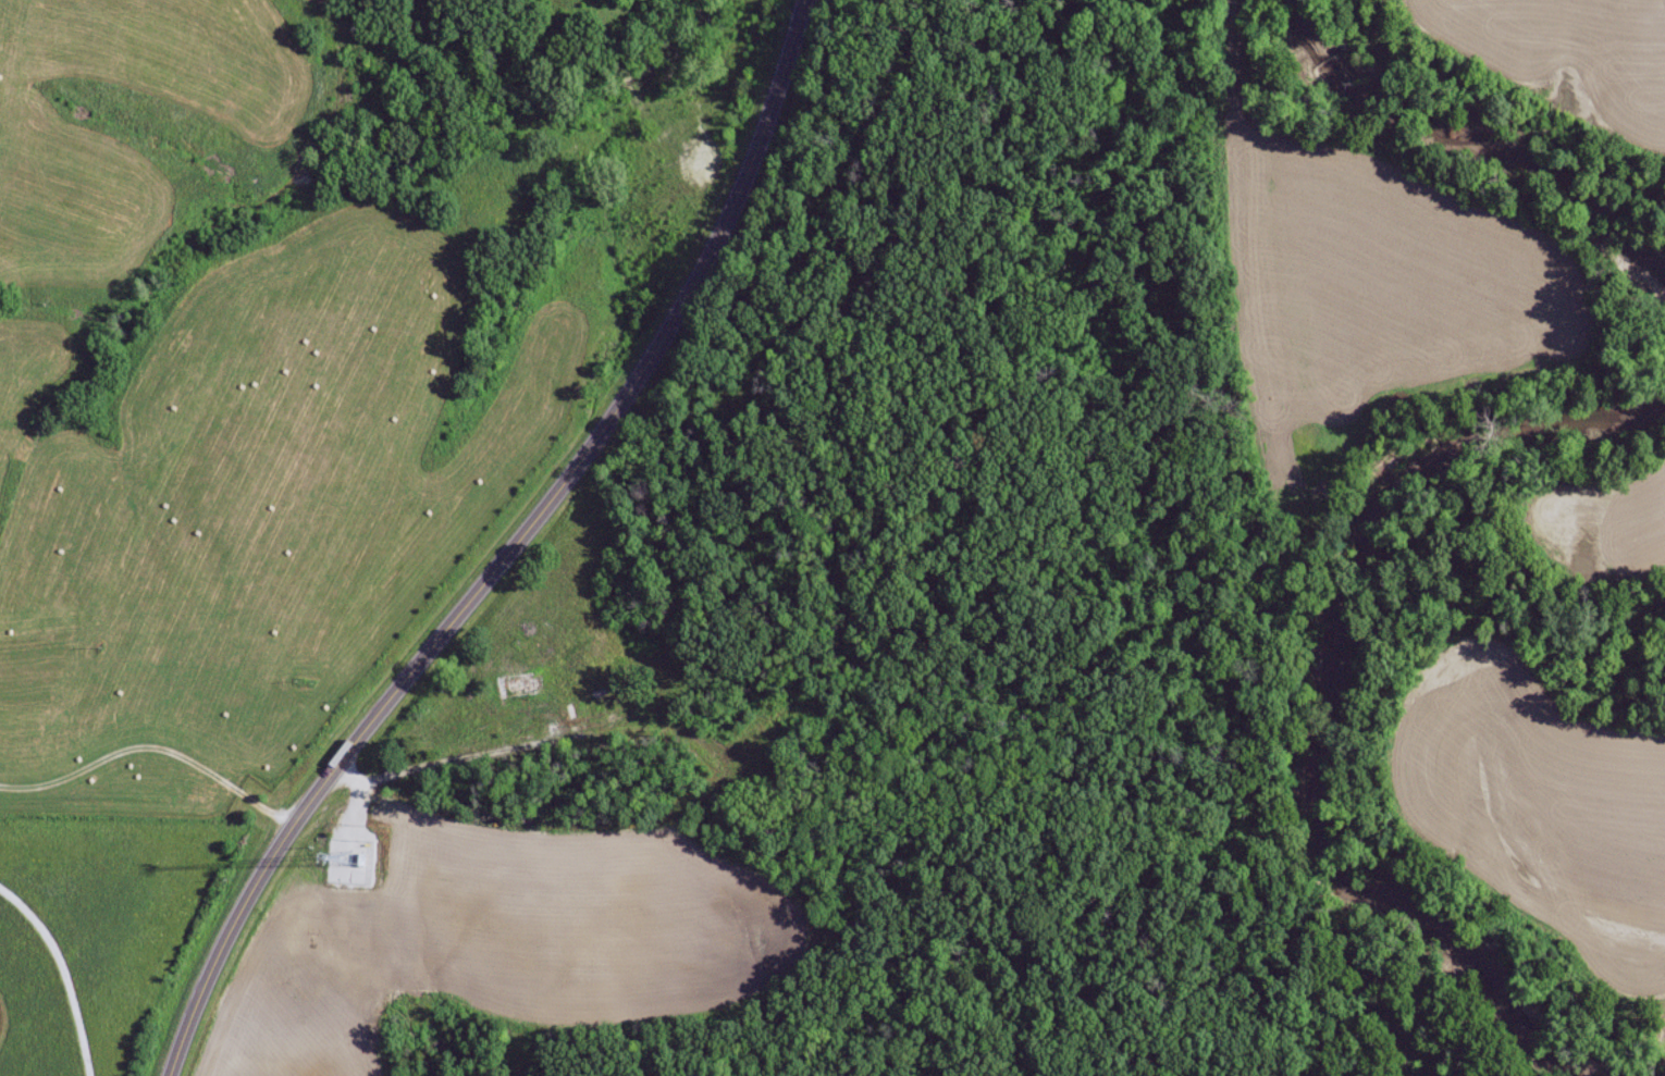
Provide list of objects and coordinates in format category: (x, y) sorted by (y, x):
road: (499, 549)
road: (529, 723)
road: (62, 974)

